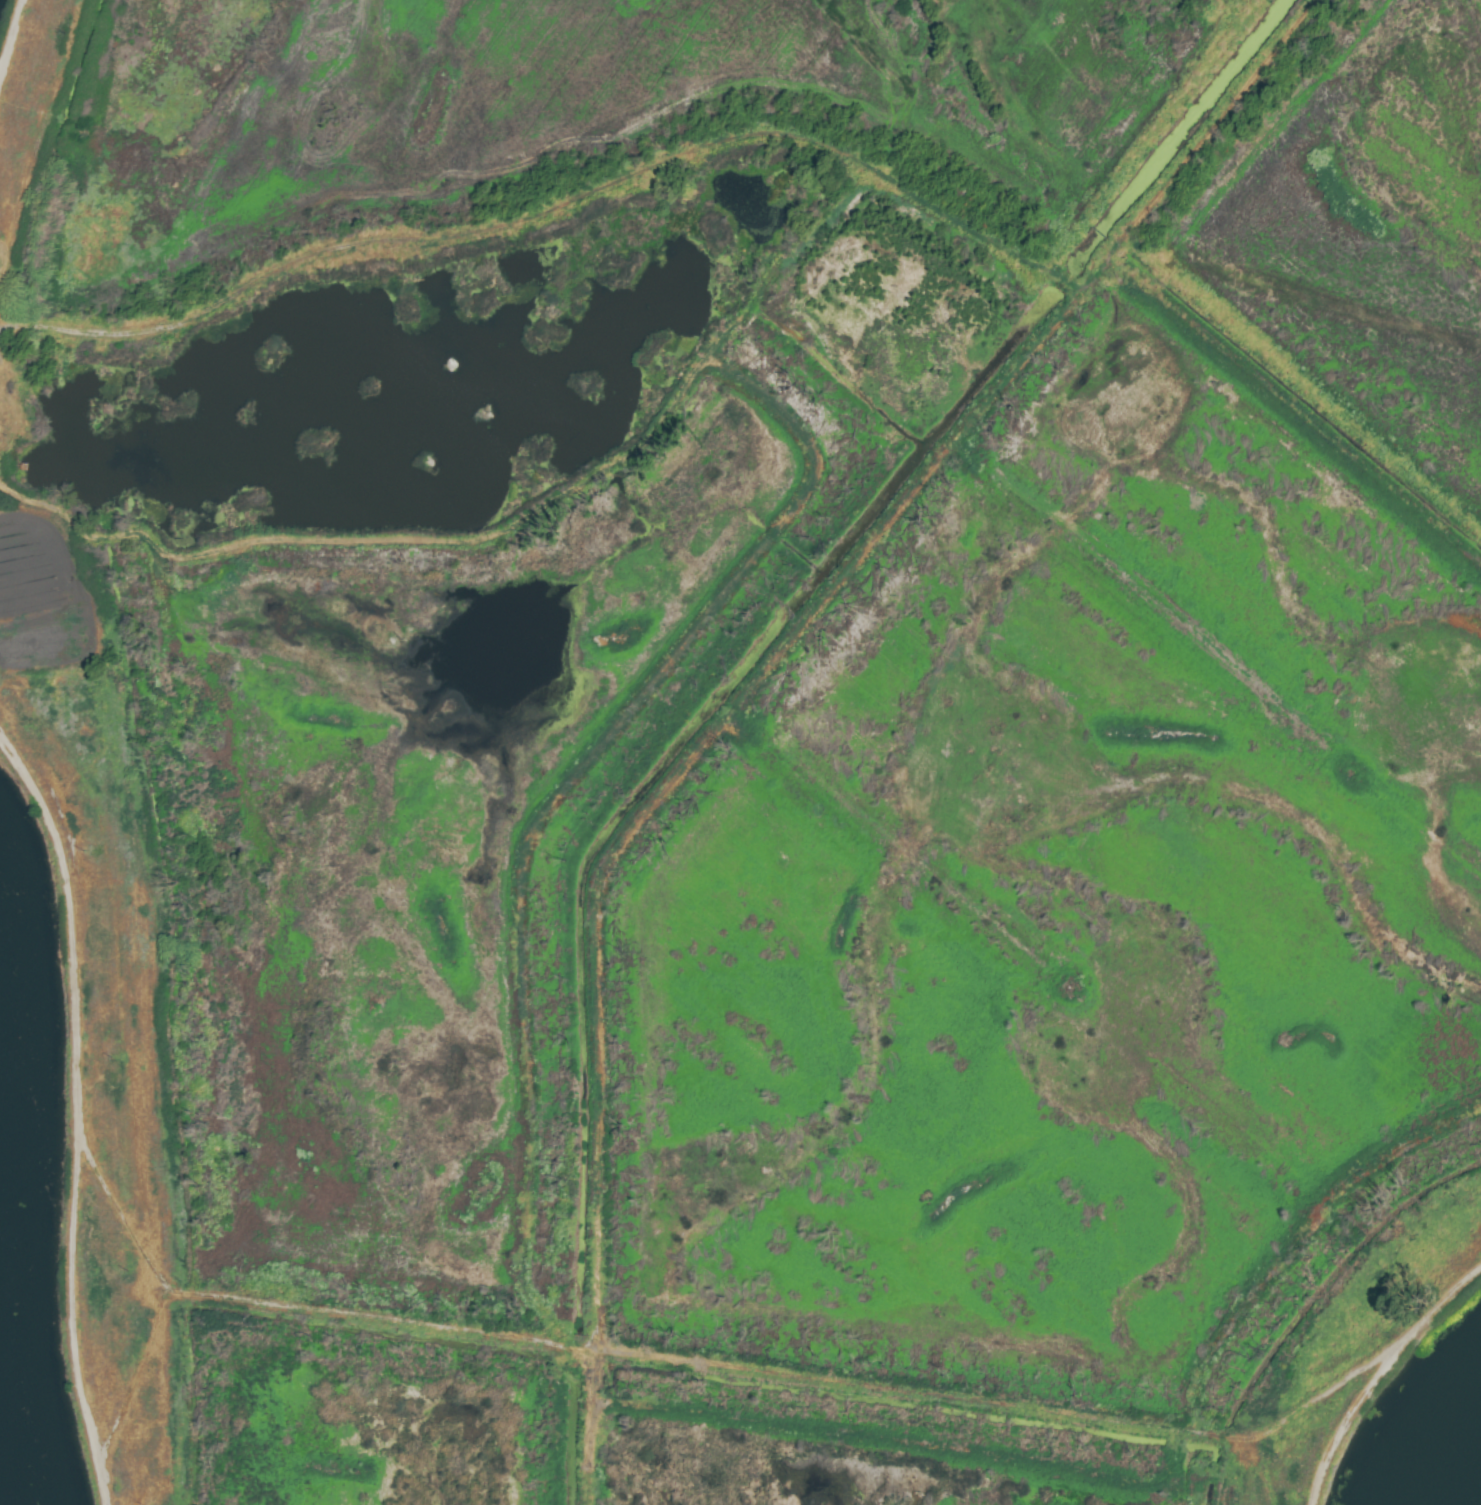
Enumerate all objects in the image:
crop: (744, 738)

